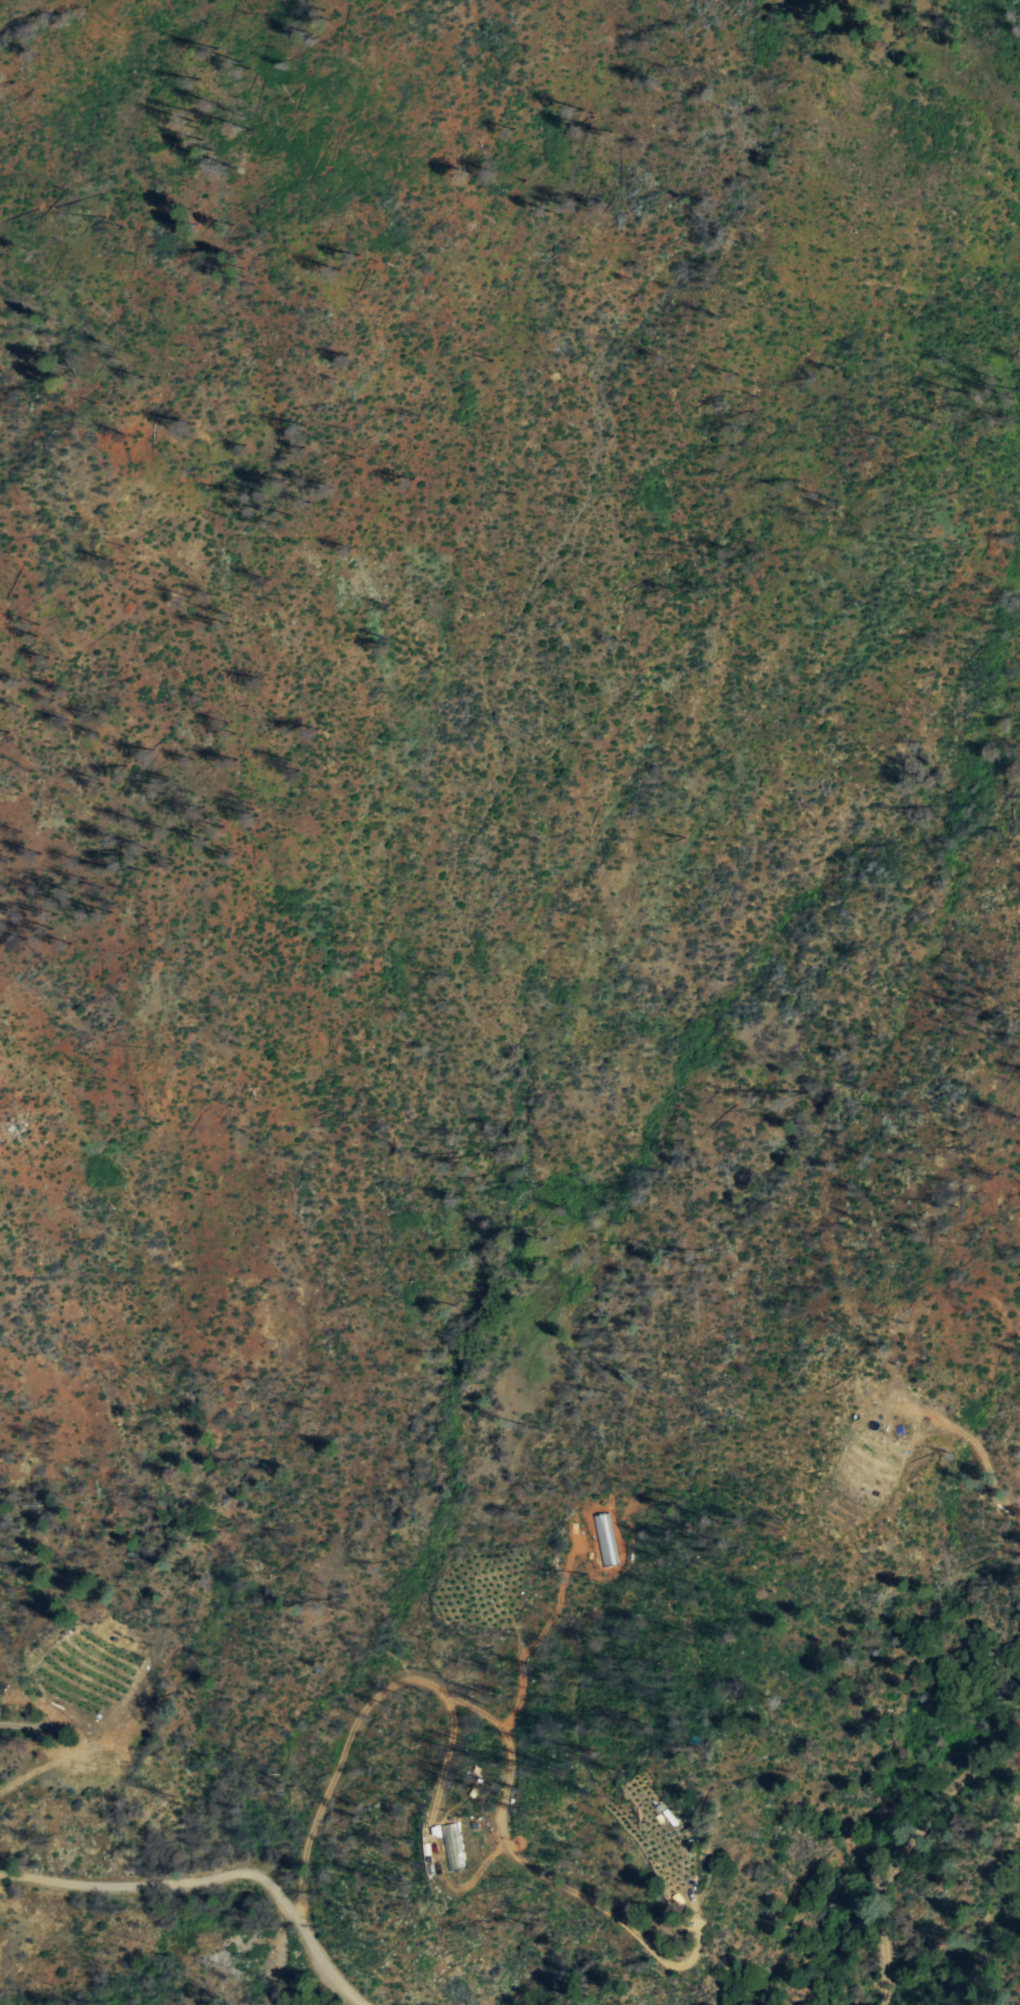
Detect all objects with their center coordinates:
road: (212, 1879)

